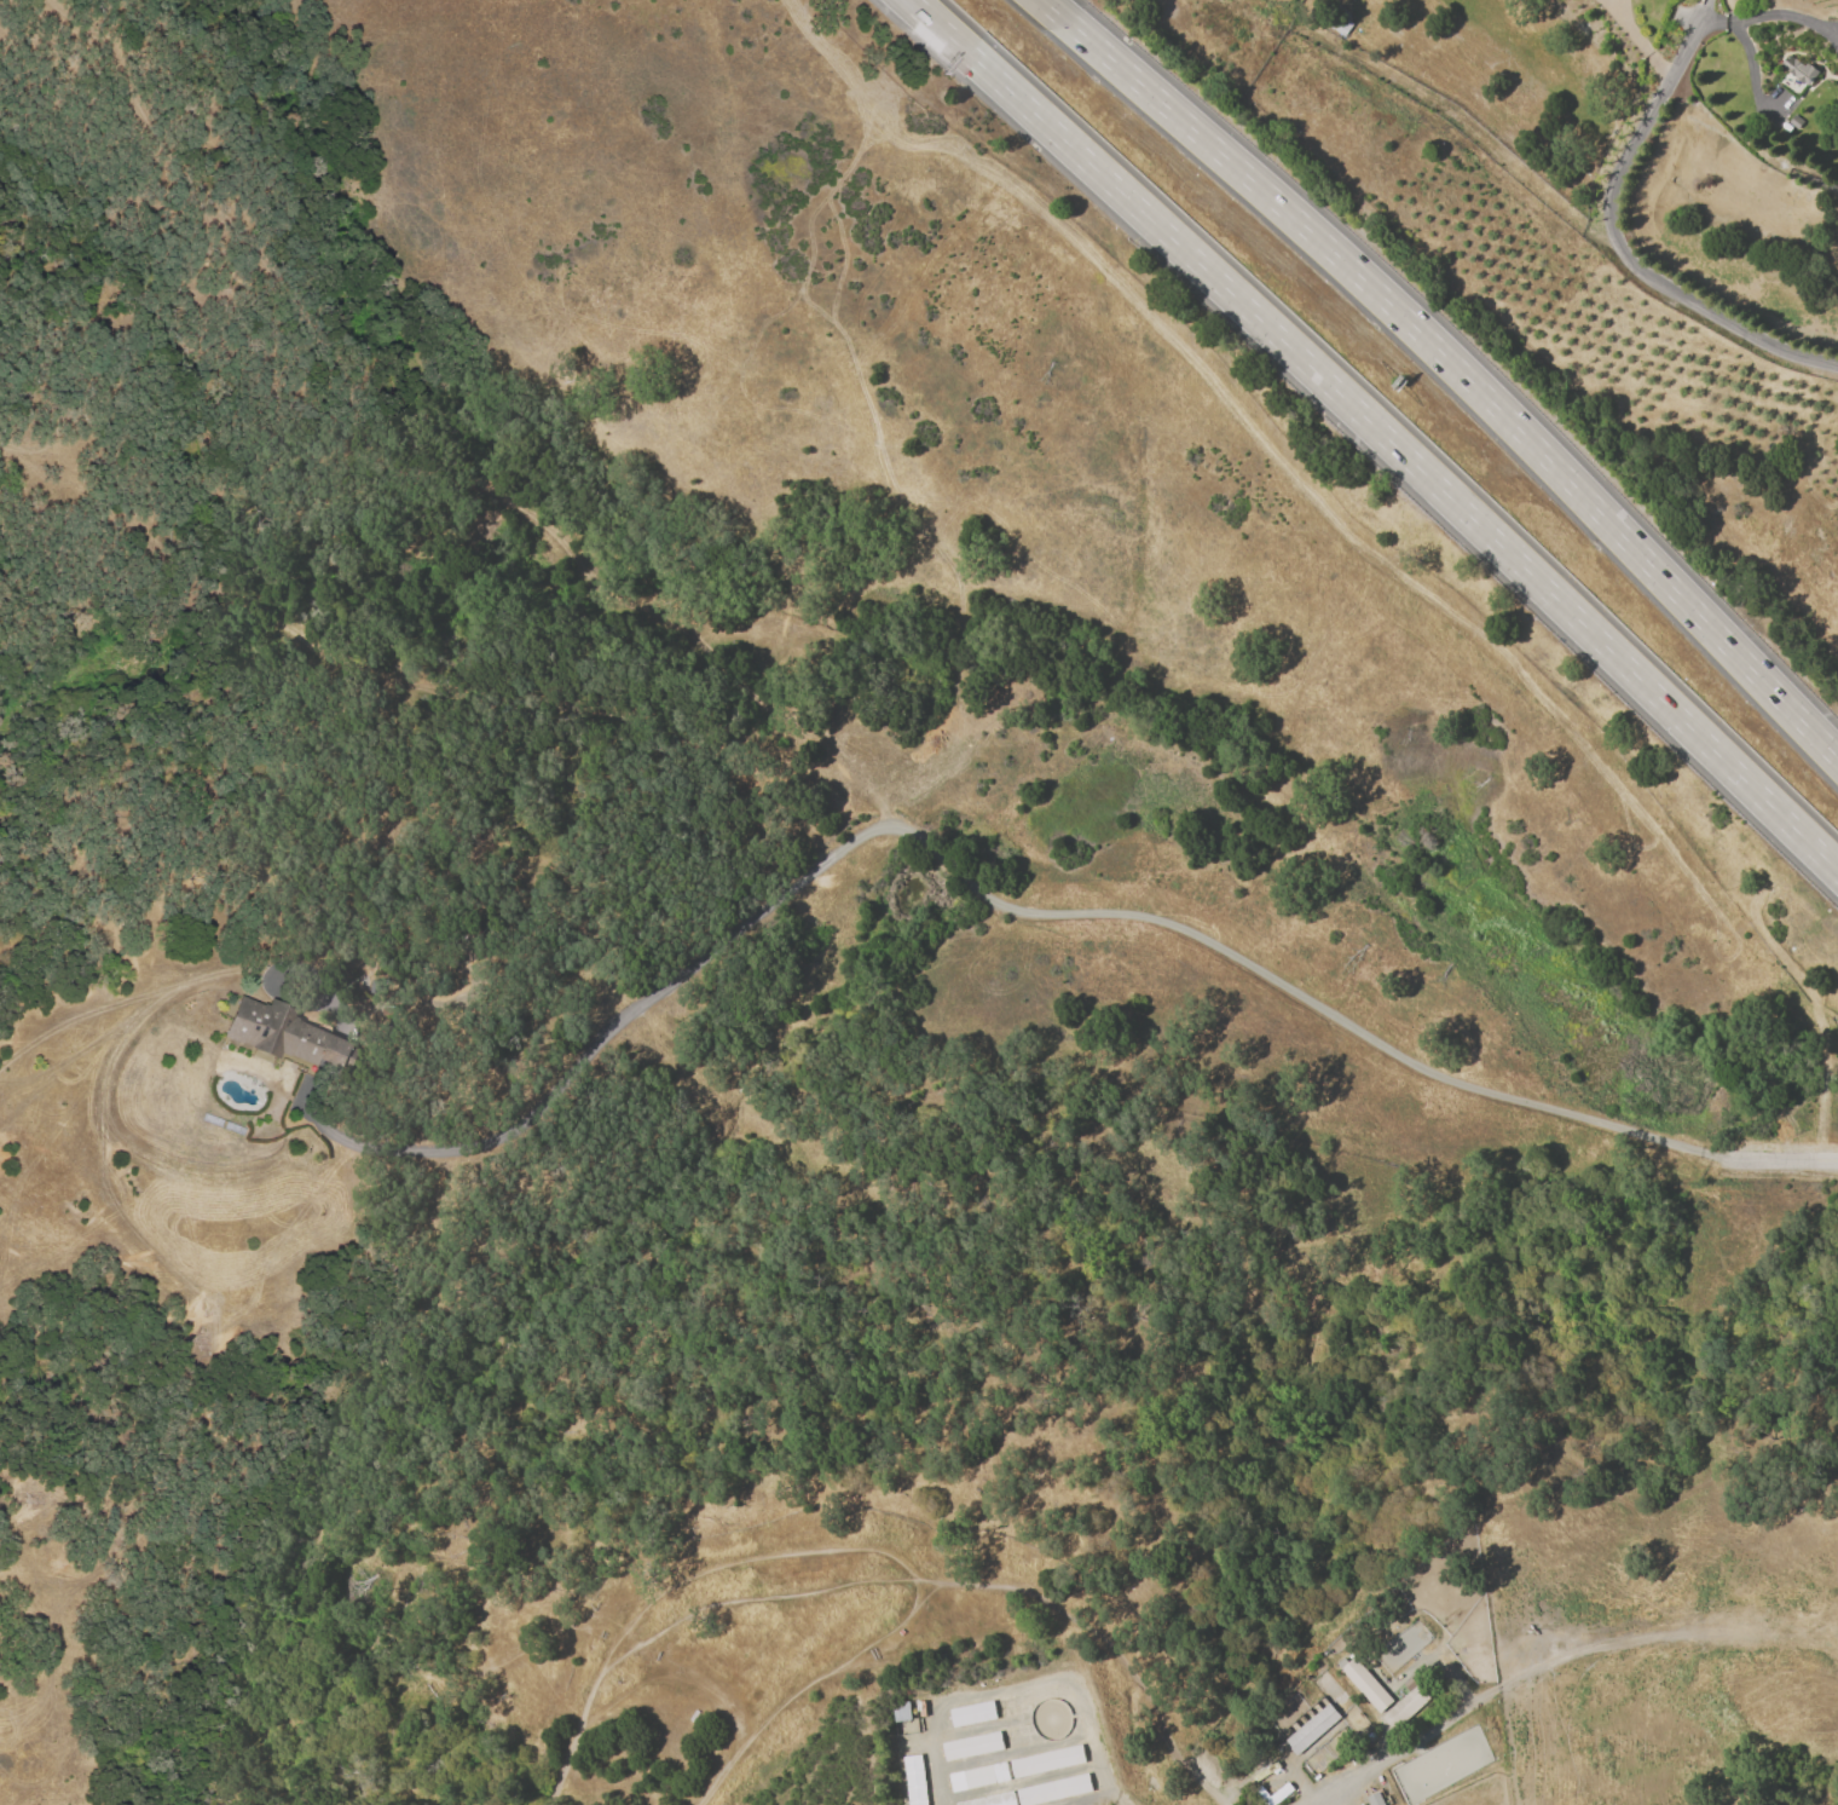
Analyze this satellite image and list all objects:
road: (1612, 4)
road: (1771, 17)
road: (1640, 40)
building: (1798, 70)
road: (1751, 76)
building: (1796, 122)
road: (1616, 246)
road: (1453, 365)
road: (1378, 429)
road: (971, 888)
building: (281, 1034)
building: (209, 1120)
building: (232, 1129)
road: (1780, 1160)
building: (1404, 1639)
building: (1391, 1651)
building: (1365, 1688)
building: (1033, 1702)
building: (1404, 1708)
building: (898, 1714)
building: (971, 1715)
building: (1311, 1731)
building: (1040, 1732)
building: (970, 1748)
building: (1045, 1763)
building: (1259, 1770)
building: (1102, 1774)
building: (976, 1778)
building: (913, 1781)
road: (1342, 1782)
building: (1383, 1786)
building: (1264, 1789)
building: (1053, 1792)
building: (1268, 1798)
building: (1375, 1799)
building: (992, 1800)

